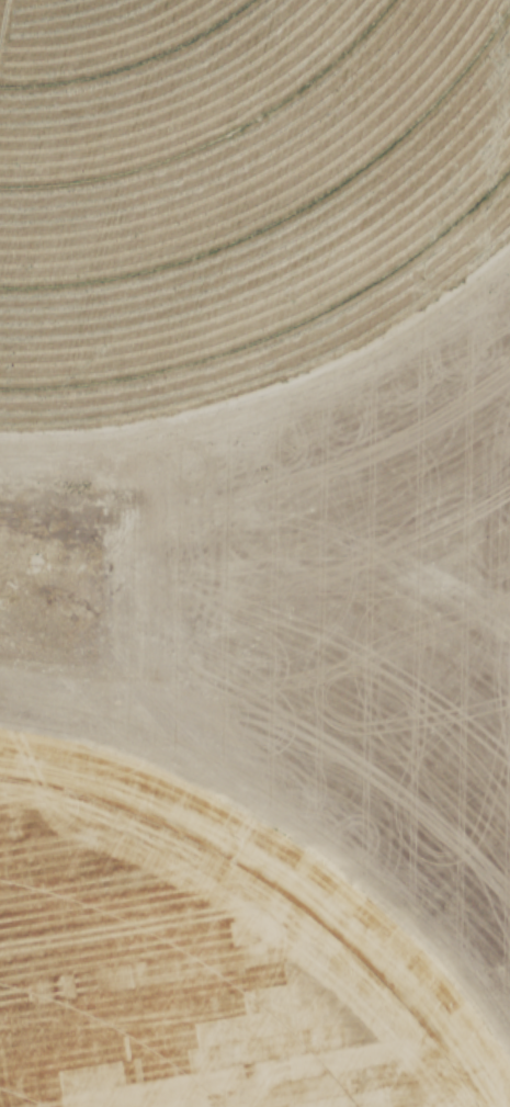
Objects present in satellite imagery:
crop: (233, 189)
crop: (216, 939)

